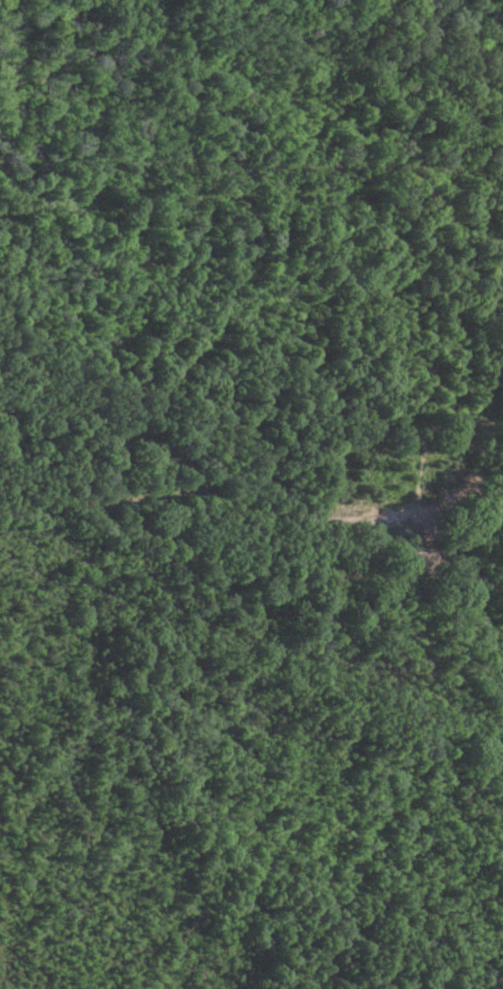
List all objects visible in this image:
road: (251, 170)
road: (258, 525)

